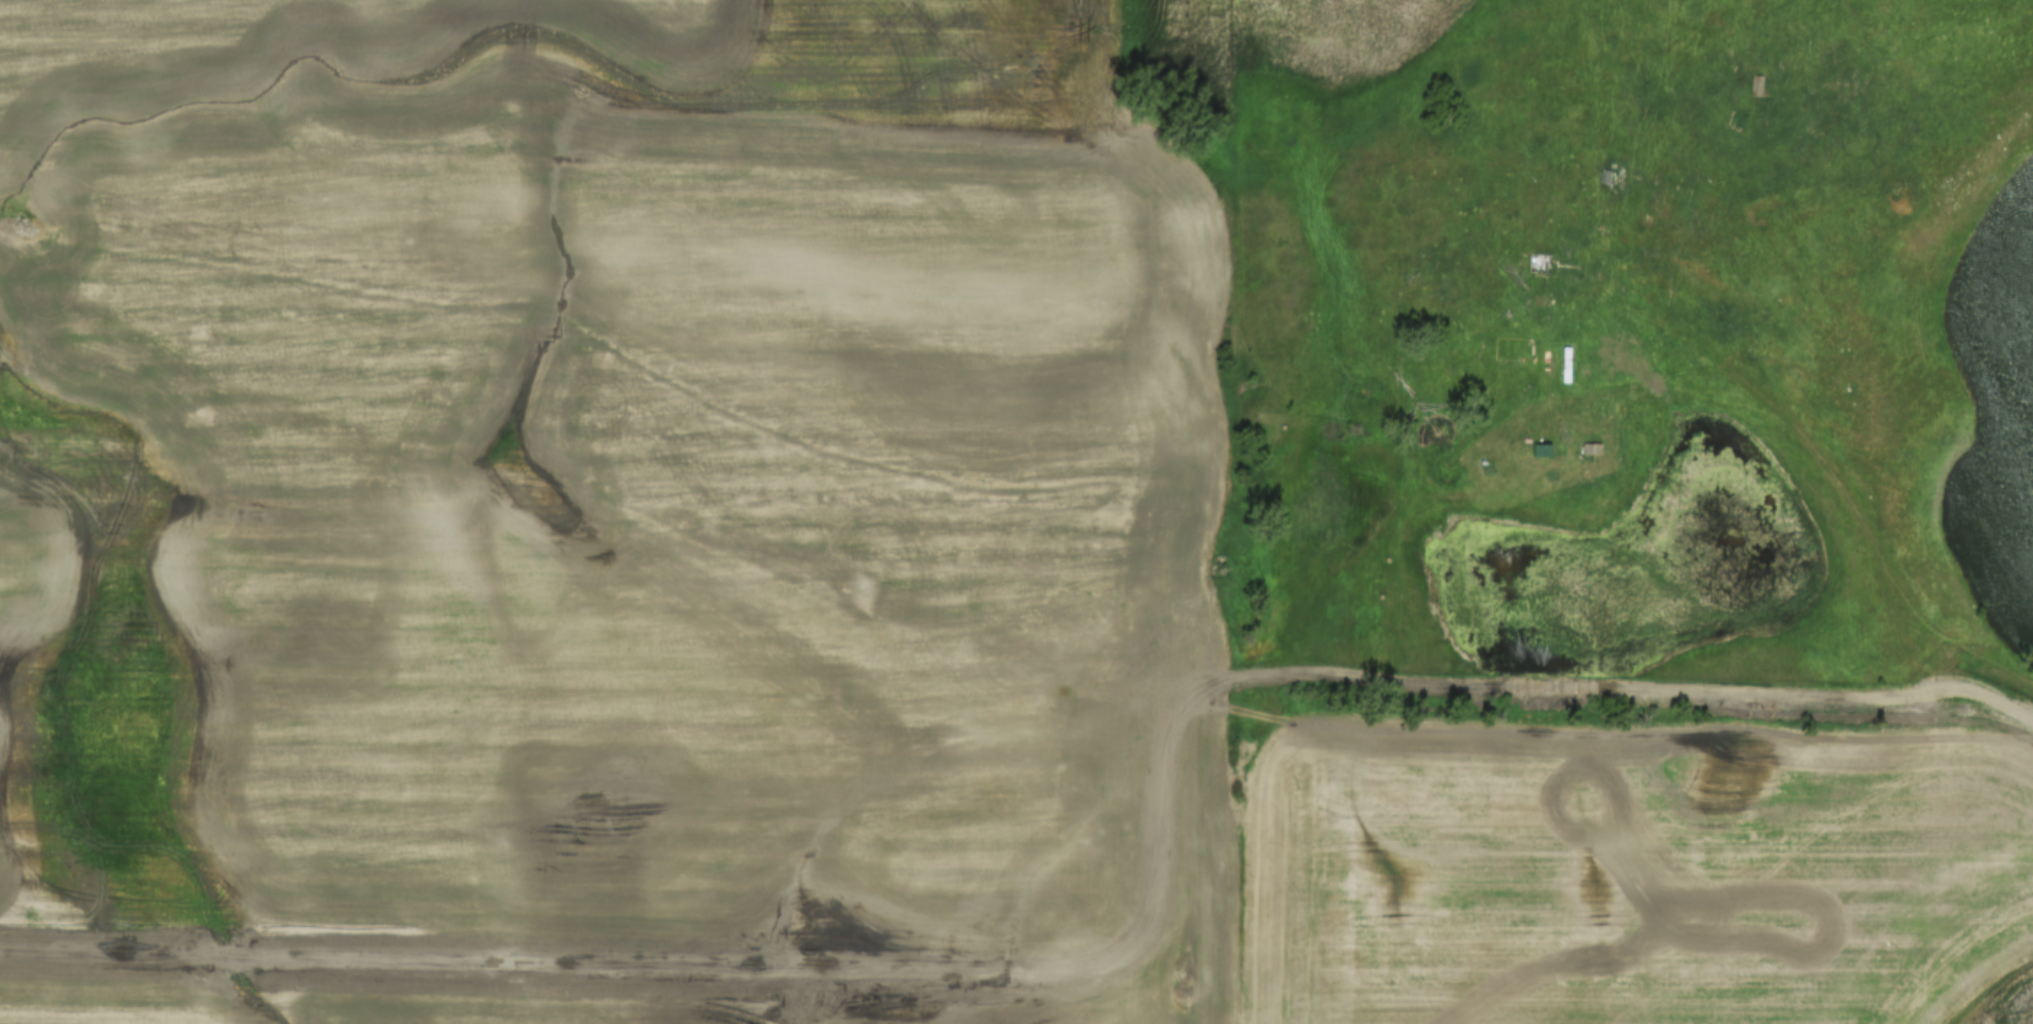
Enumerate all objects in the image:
building: (1759, 86)
road: (1716, 365)
road: (1654, 380)
building: (1591, 449)
building: (1541, 450)
road: (1662, 688)

